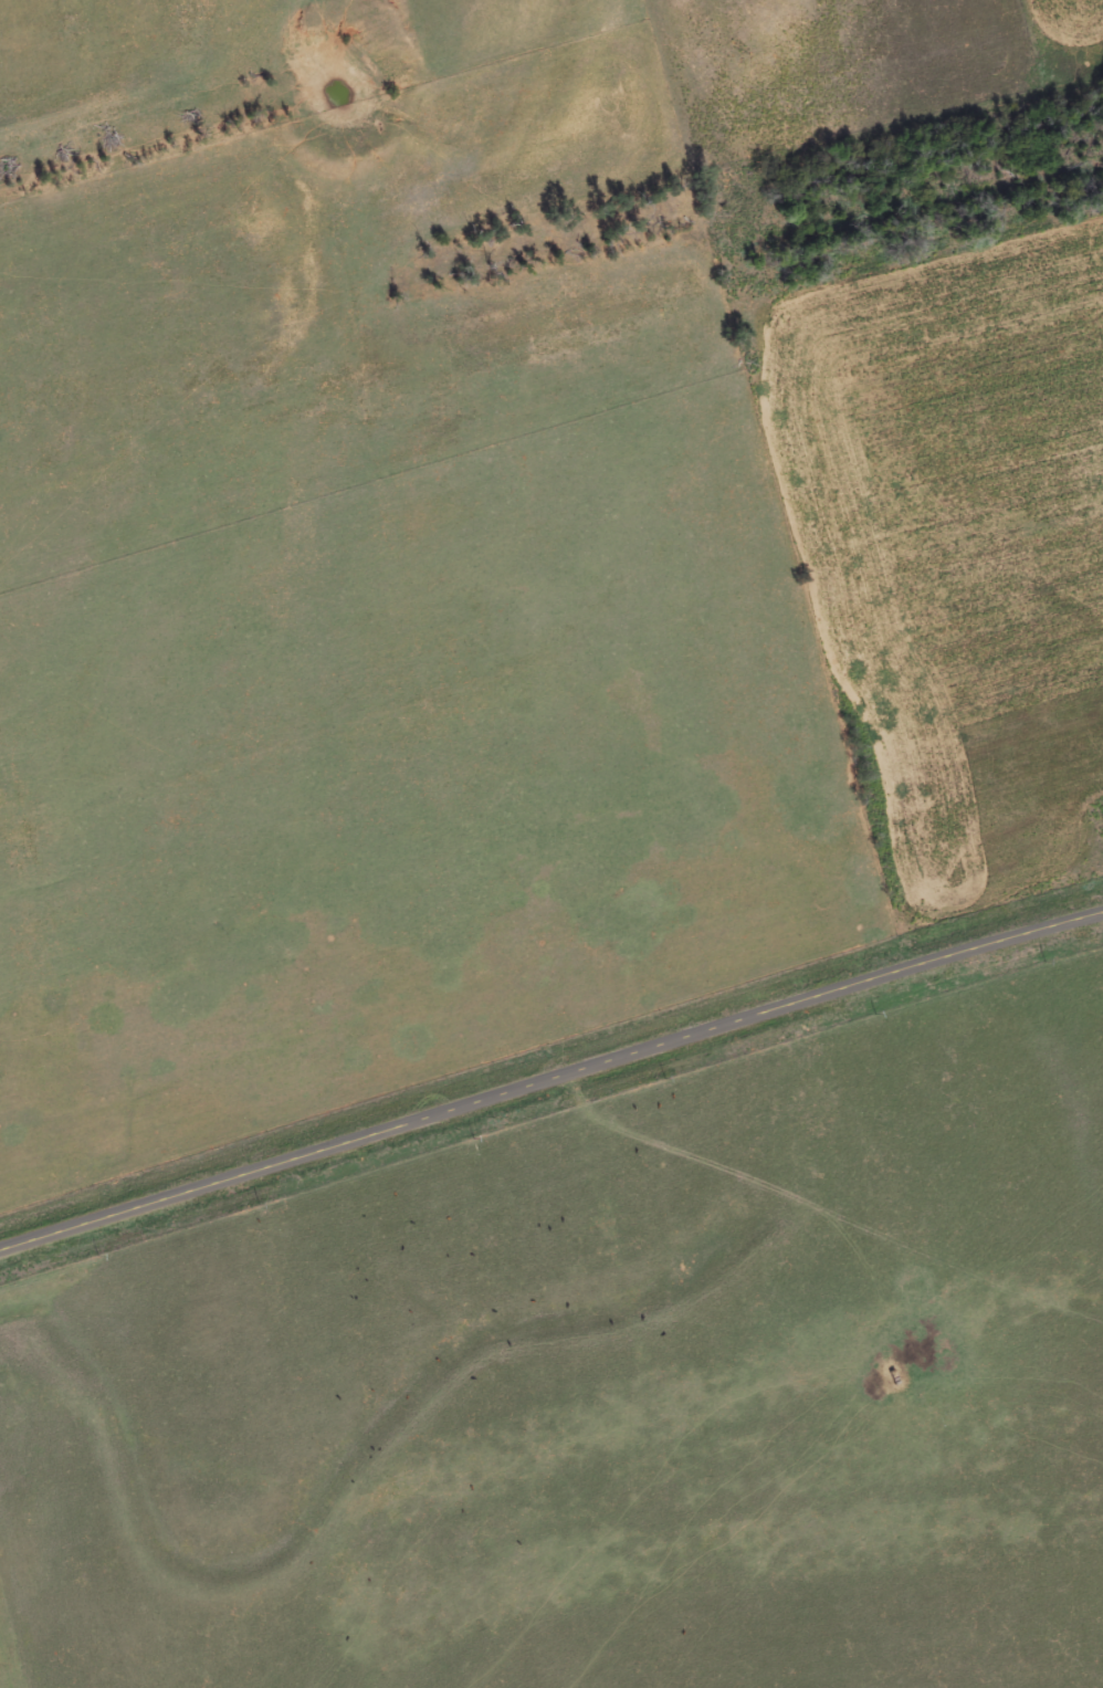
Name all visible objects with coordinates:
road: (550, 1104)

